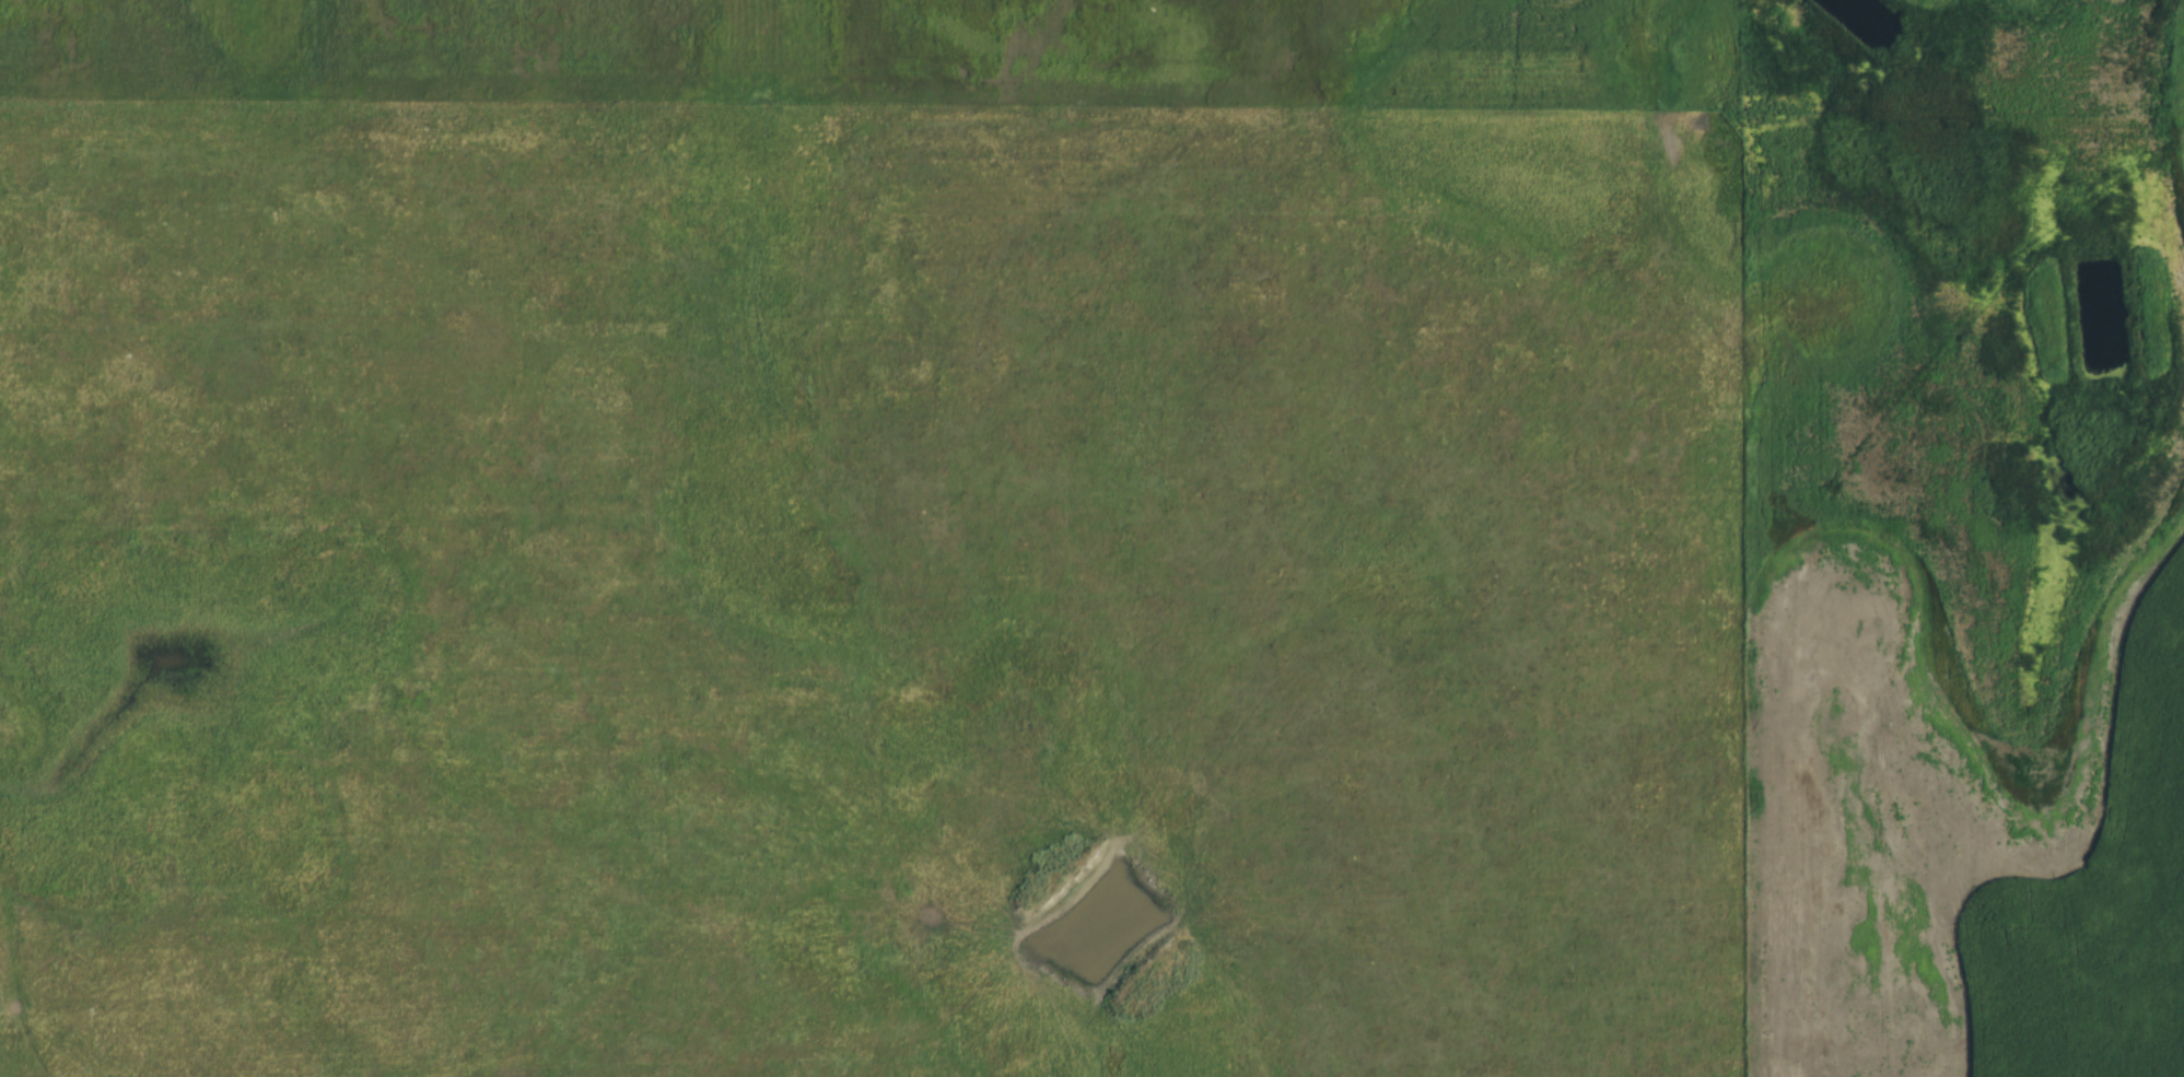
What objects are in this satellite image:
road: (1091, 138)

